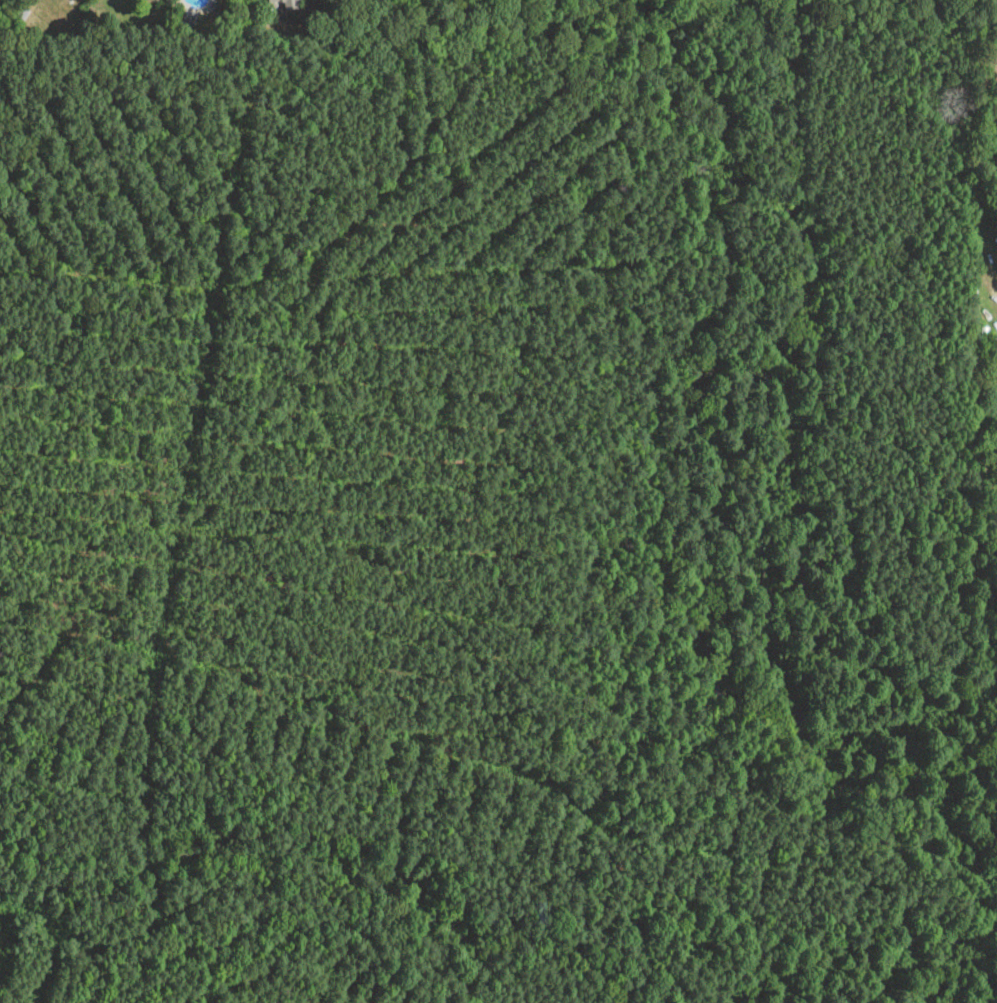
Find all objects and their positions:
building: (274, 0)

